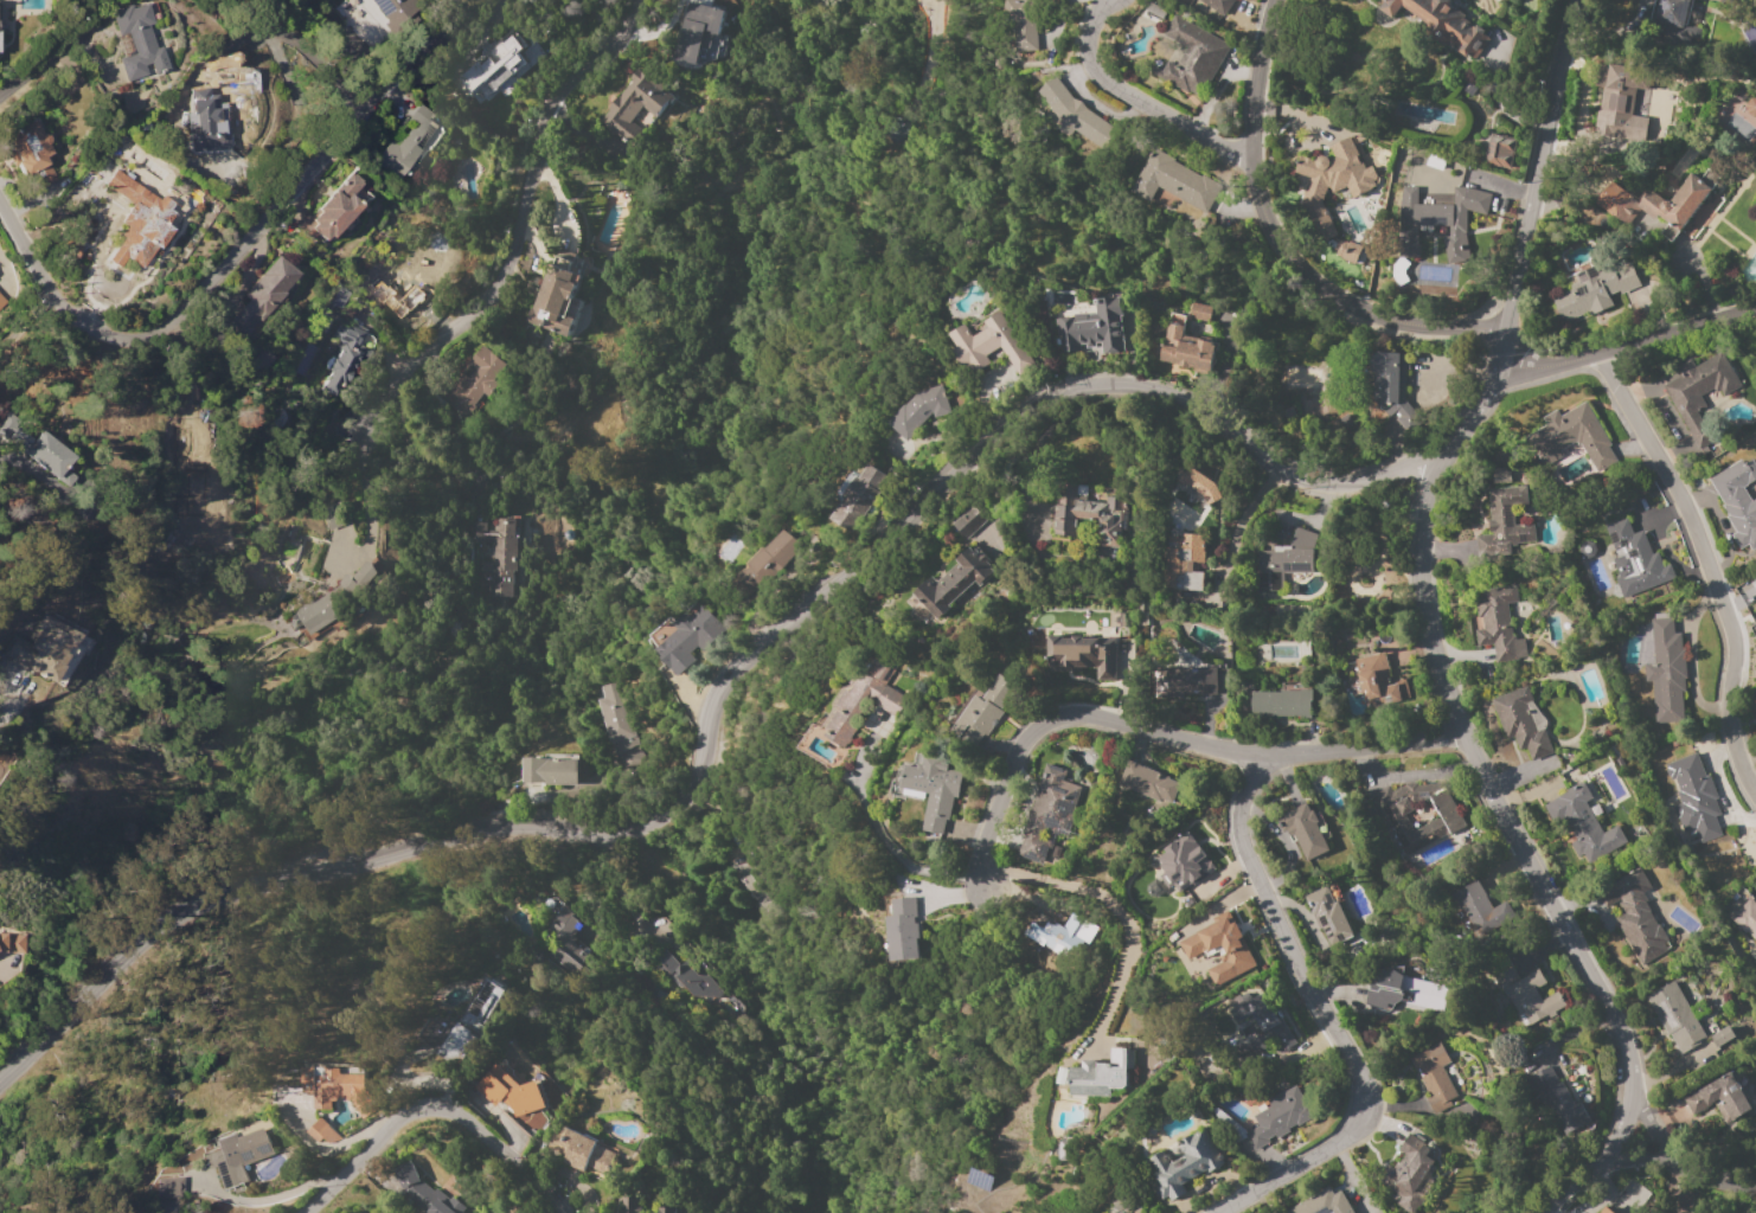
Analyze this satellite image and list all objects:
building: (1210, 6)
building: (393, 9)
building: (1673, 12)
building: (1023, 23)
building: (1442, 23)
building: (697, 31)
building: (139, 40)
building: (1190, 57)
road: (39, 59)
building: (217, 62)
building: (492, 66)
building: (1620, 96)
building: (1735, 96)
road: (1134, 100)
road: (1497, 102)
building: (1750, 105)
building: (634, 107)
building: (1075, 113)
building: (207, 121)
building: (409, 142)
building: (1500, 150)
building: (31, 153)
building: (1332, 181)
building: (1172, 182)
building: (1667, 205)
building: (332, 210)
building: (141, 218)
road: (514, 220)
building: (1441, 223)
road: (1524, 224)
building: (609, 229)
road: (1284, 238)
road: (249, 244)
building: (1345, 250)
road: (5, 274)
building: (1594, 291)
building: (265, 294)
building: (558, 295)
building: (4, 297)
building: (1198, 312)
building: (1091, 328)
building: (991, 345)
building: (1187, 349)
road: (1628, 353)
building: (342, 358)
building: (473, 383)
building: (1391, 385)
building: (1699, 393)
building: (918, 411)
building: (1571, 437)
building: (36, 445)
building: (1501, 475)
building: (1197, 483)
building: (855, 496)
building: (206, 501)
building: (1738, 501)
building: (332, 515)
building: (1089, 518)
building: (969, 522)
building: (1504, 522)
road: (1237, 525)
building: (1587, 550)
building: (496, 553)
park: (1372, 553)
building: (1288, 554)
building: (1635, 560)
road: (1704, 560)
building: (764, 561)
building: (1184, 561)
fountain: (1361, 580)
building: (953, 582)
building: (1754, 584)
building: (337, 599)
building: (1499, 623)
building: (690, 638)
building: (41, 648)
building: (1082, 655)
building: (1666, 670)
building: (1180, 681)
building: (1376, 681)
road: (716, 687)
road: (12, 698)
building: (860, 702)
building: (1282, 702)
building: (983, 711)
building: (1520, 723)
building: (616, 725)
road: (1153, 734)
building: (550, 769)
building: (1147, 782)
building: (933, 790)
building: (1693, 797)
building: (1047, 815)
building: (1446, 820)
building: (1583, 822)
building: (1303, 830)
road: (1518, 843)
road: (898, 853)
building: (1185, 864)
building: (752, 891)
road: (1110, 899)
building: (1478, 909)
building: (1328, 916)
building: (1635, 916)
building: (1745, 918)
building: (903, 932)
building: (1045, 938)
building: (13, 942)
building: (568, 942)
building: (1192, 946)
building: (1226, 950)
road: (1, 964)
building: (688, 977)
building: (1401, 995)
building: (1529, 996)
building: (1675, 1016)
road: (1332, 1019)
building: (1263, 1022)
building: (472, 1025)
building: (1722, 1036)
building: (1102, 1074)
building: (1434, 1077)
building: (338, 1089)
building: (508, 1092)
building: (1720, 1098)
building: (1557, 1100)
road: (431, 1109)
building: (1278, 1117)
building: (321, 1131)
road: (326, 1148)
building: (1063, 1150)
building: (583, 1153)
building: (237, 1156)
road: (1638, 1160)
road: (1681, 1162)
building: (1184, 1164)
building: (1408, 1174)
building: (169, 1186)
building: (423, 1192)
building: (1123, 1202)
building: (1322, 1204)
building: (629, 1205)
building: (667, 1209)
building: (1603, 1209)

